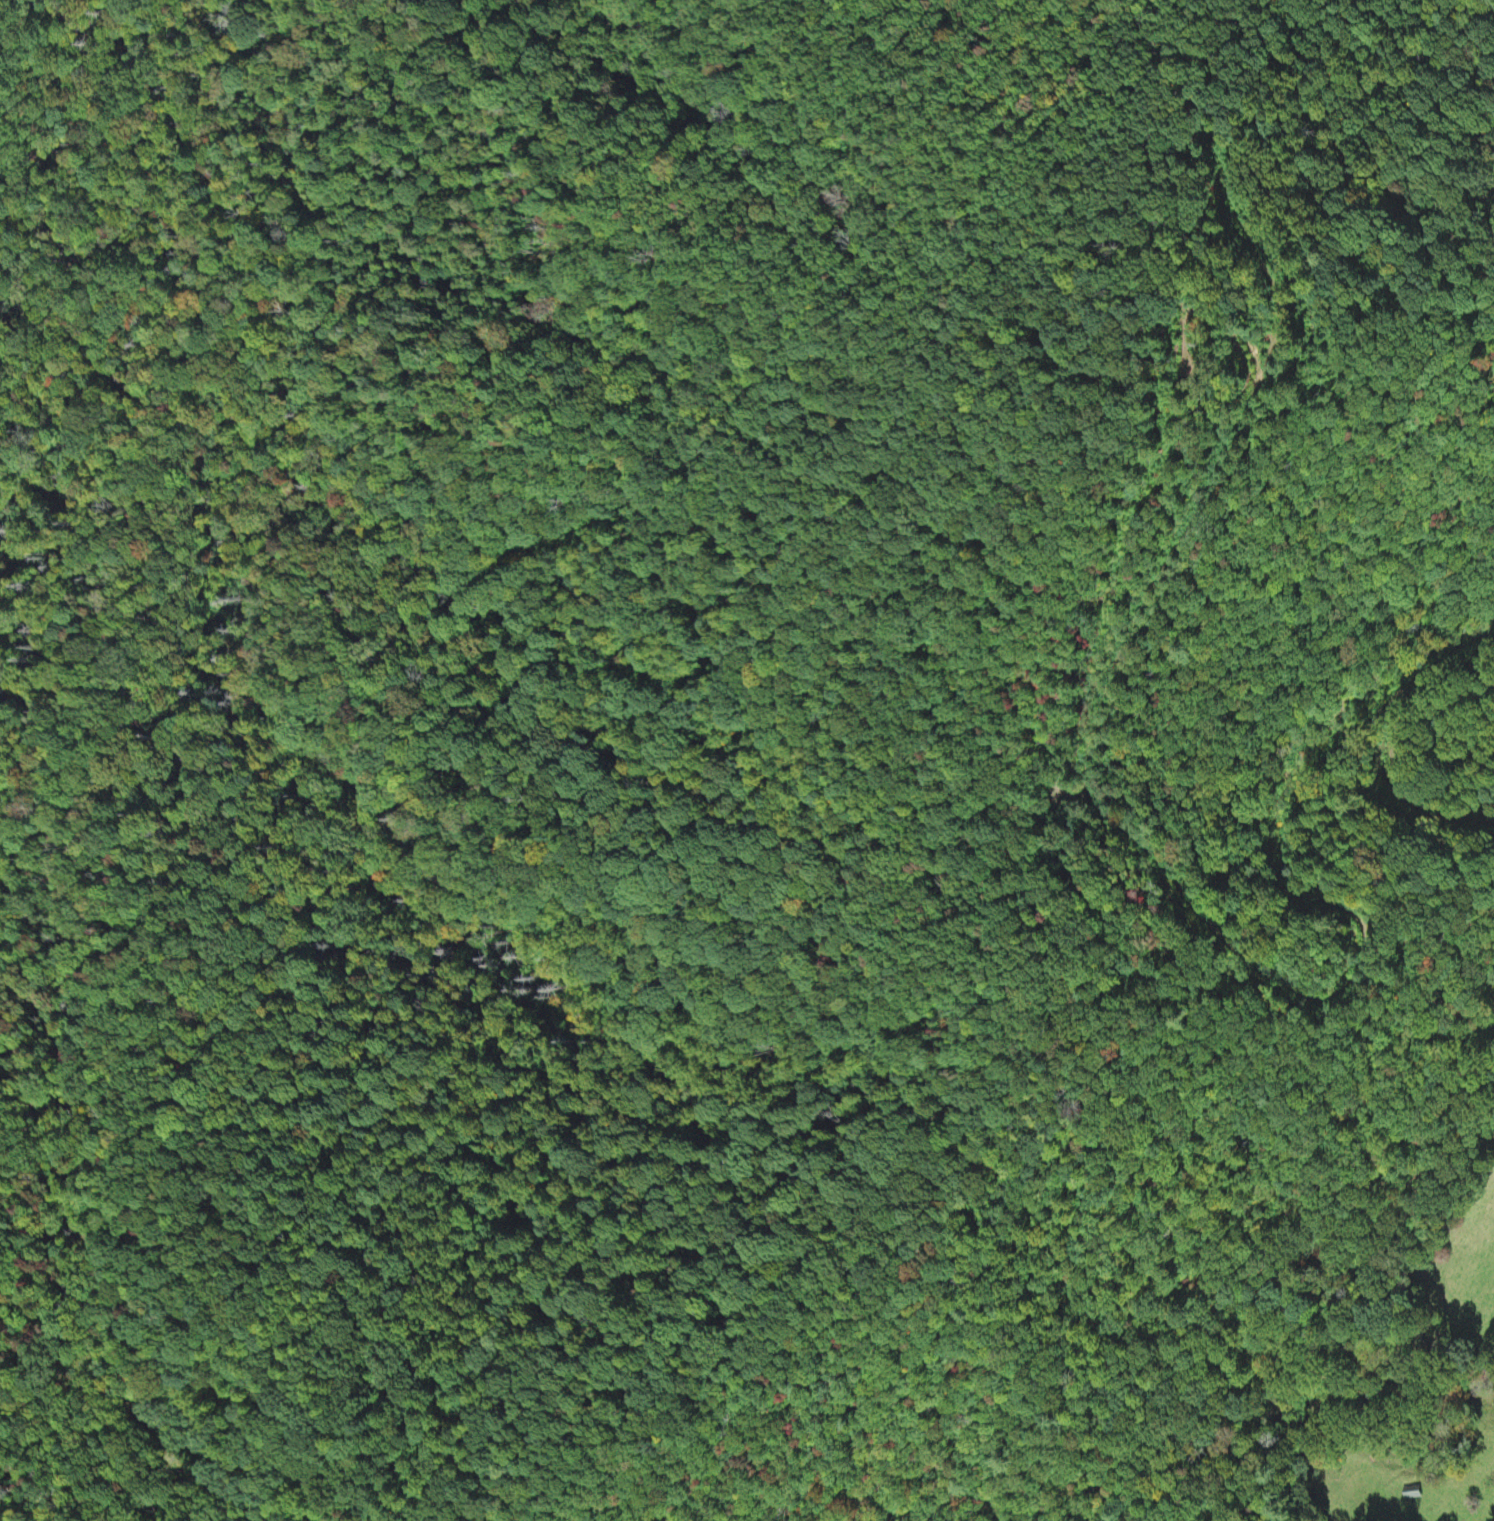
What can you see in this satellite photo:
building: (1413, 1494)

